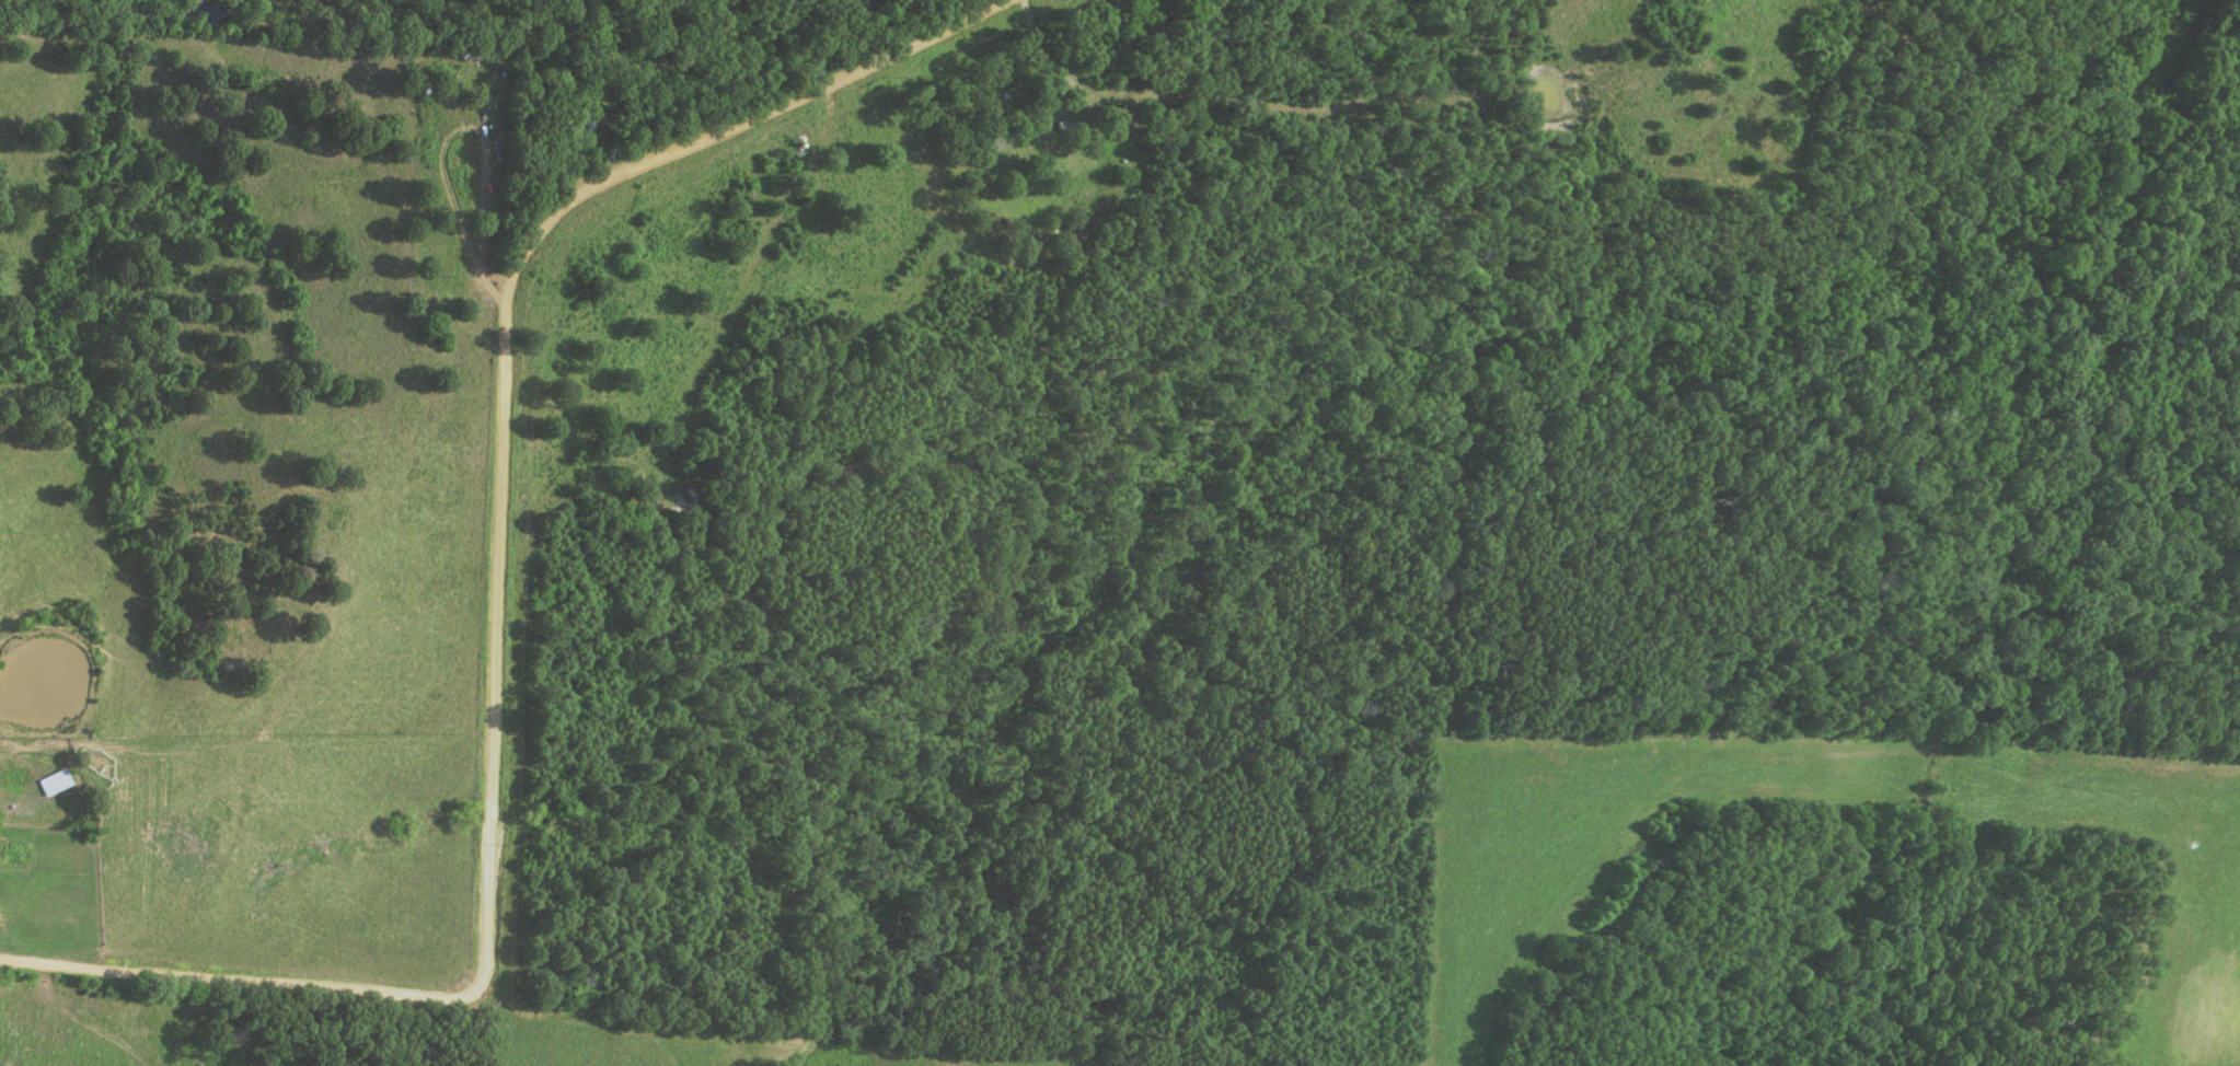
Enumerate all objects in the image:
road: (900, 55)
road: (510, 476)
building: (55, 783)
road: (241, 981)

